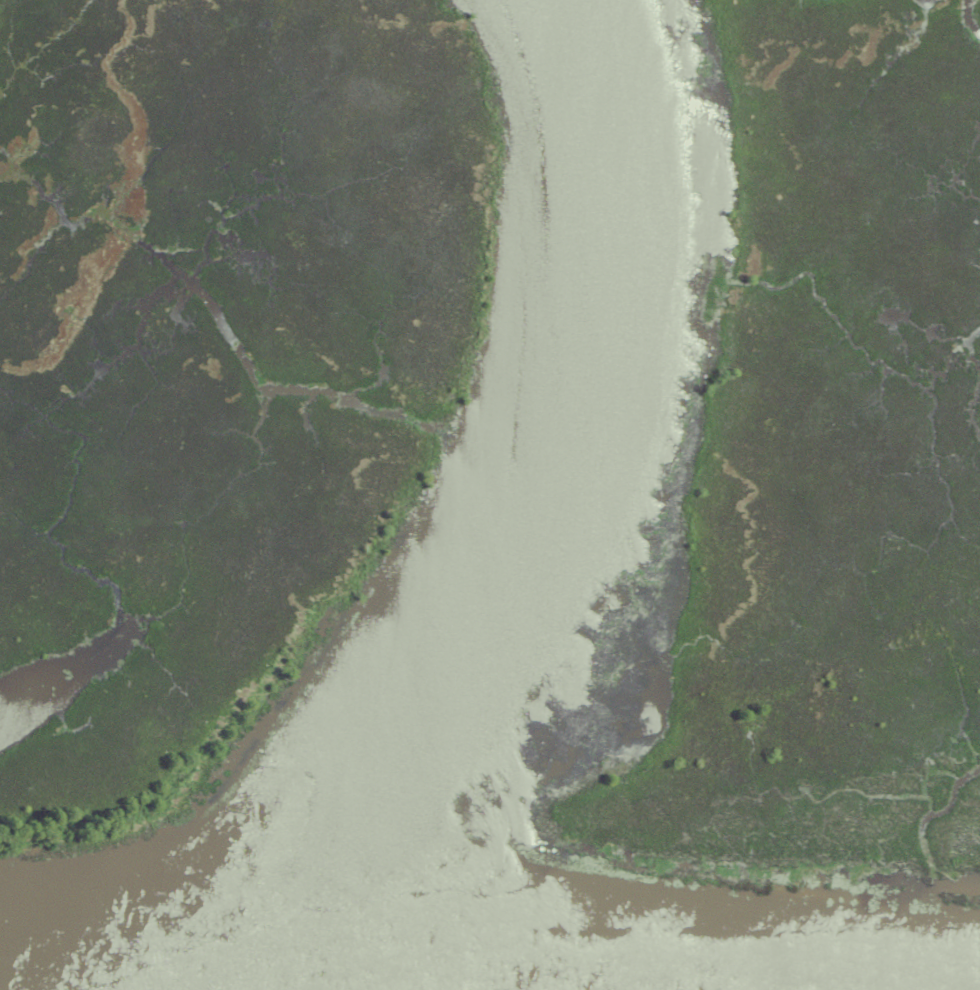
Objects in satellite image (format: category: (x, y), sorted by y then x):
river: (546, 501)
river: (644, 960)
river: (244, 972)

